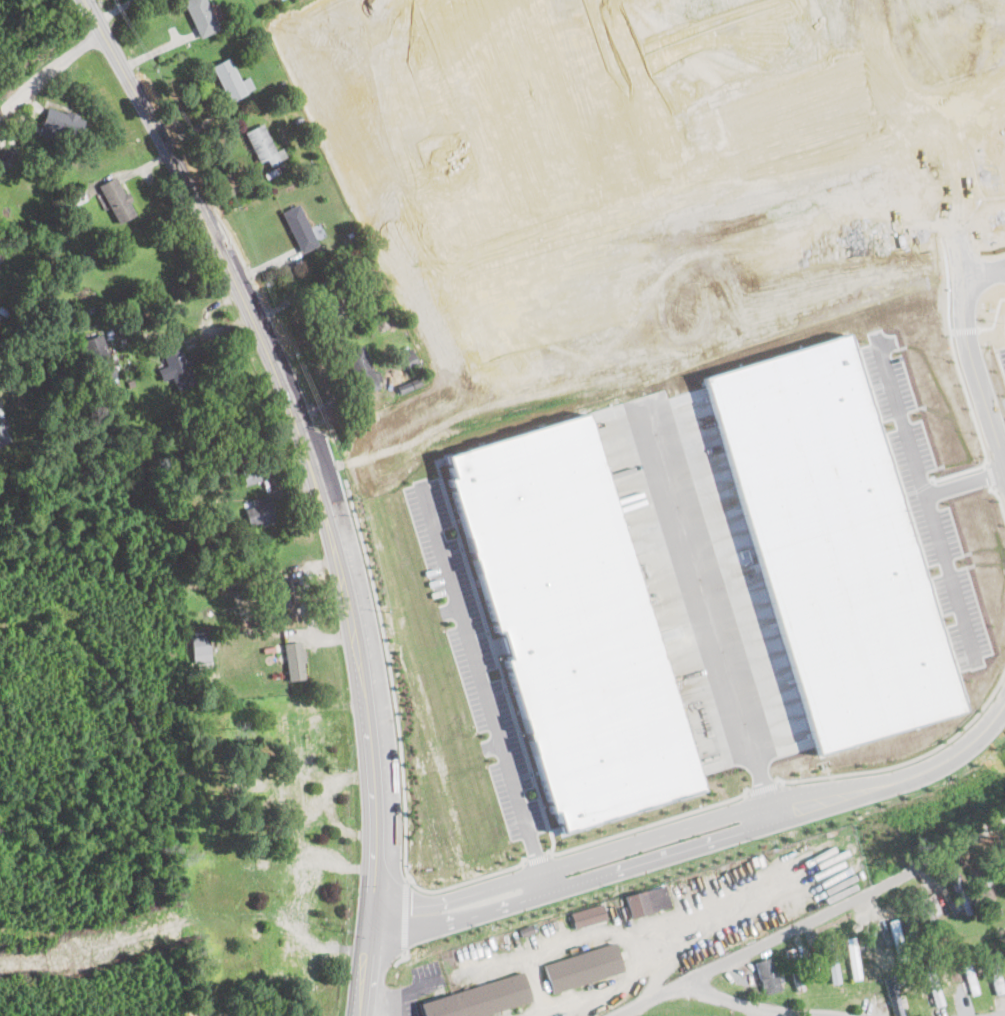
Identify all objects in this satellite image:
building: (202, 16)
road: (50, 68)
building: (231, 80)
building: (62, 123)
building: (262, 143)
building: (117, 199)
building: (300, 227)
road: (989, 269)
road: (974, 344)
building: (408, 356)
building: (100, 359)
building: (177, 366)
building: (363, 368)
building: (408, 384)
road: (899, 423)
building: (3, 434)
building: (251, 476)
road: (314, 485)
building: (259, 508)
road: (933, 536)
building: (830, 545)
building: (739, 566)
building: (280, 591)
road: (708, 620)
building: (572, 621)
building: (200, 649)
road: (476, 656)
building: (294, 659)
road: (396, 716)
building: (284, 723)
building: (297, 727)
road: (908, 759)
road: (763, 786)
building: (298, 796)
road: (650, 823)
road: (698, 836)
road: (536, 857)
road: (537, 857)
road: (407, 878)
building: (305, 883)
building: (982, 888)
building: (959, 894)
building: (646, 901)
road: (705, 909)
building: (588, 915)
road: (404, 916)
road: (809, 920)
road: (622, 932)
building: (897, 938)
building: (295, 955)
road: (399, 958)
building: (851, 958)
building: (829, 959)
road: (663, 964)
building: (581, 968)
building: (992, 973)
building: (766, 975)
building: (970, 978)
road: (535, 981)
building: (932, 988)
road: (402, 991)
building: (479, 997)
building: (891, 997)
road: (757, 1005)
road: (389, 1006)
building: (215, 1015)

